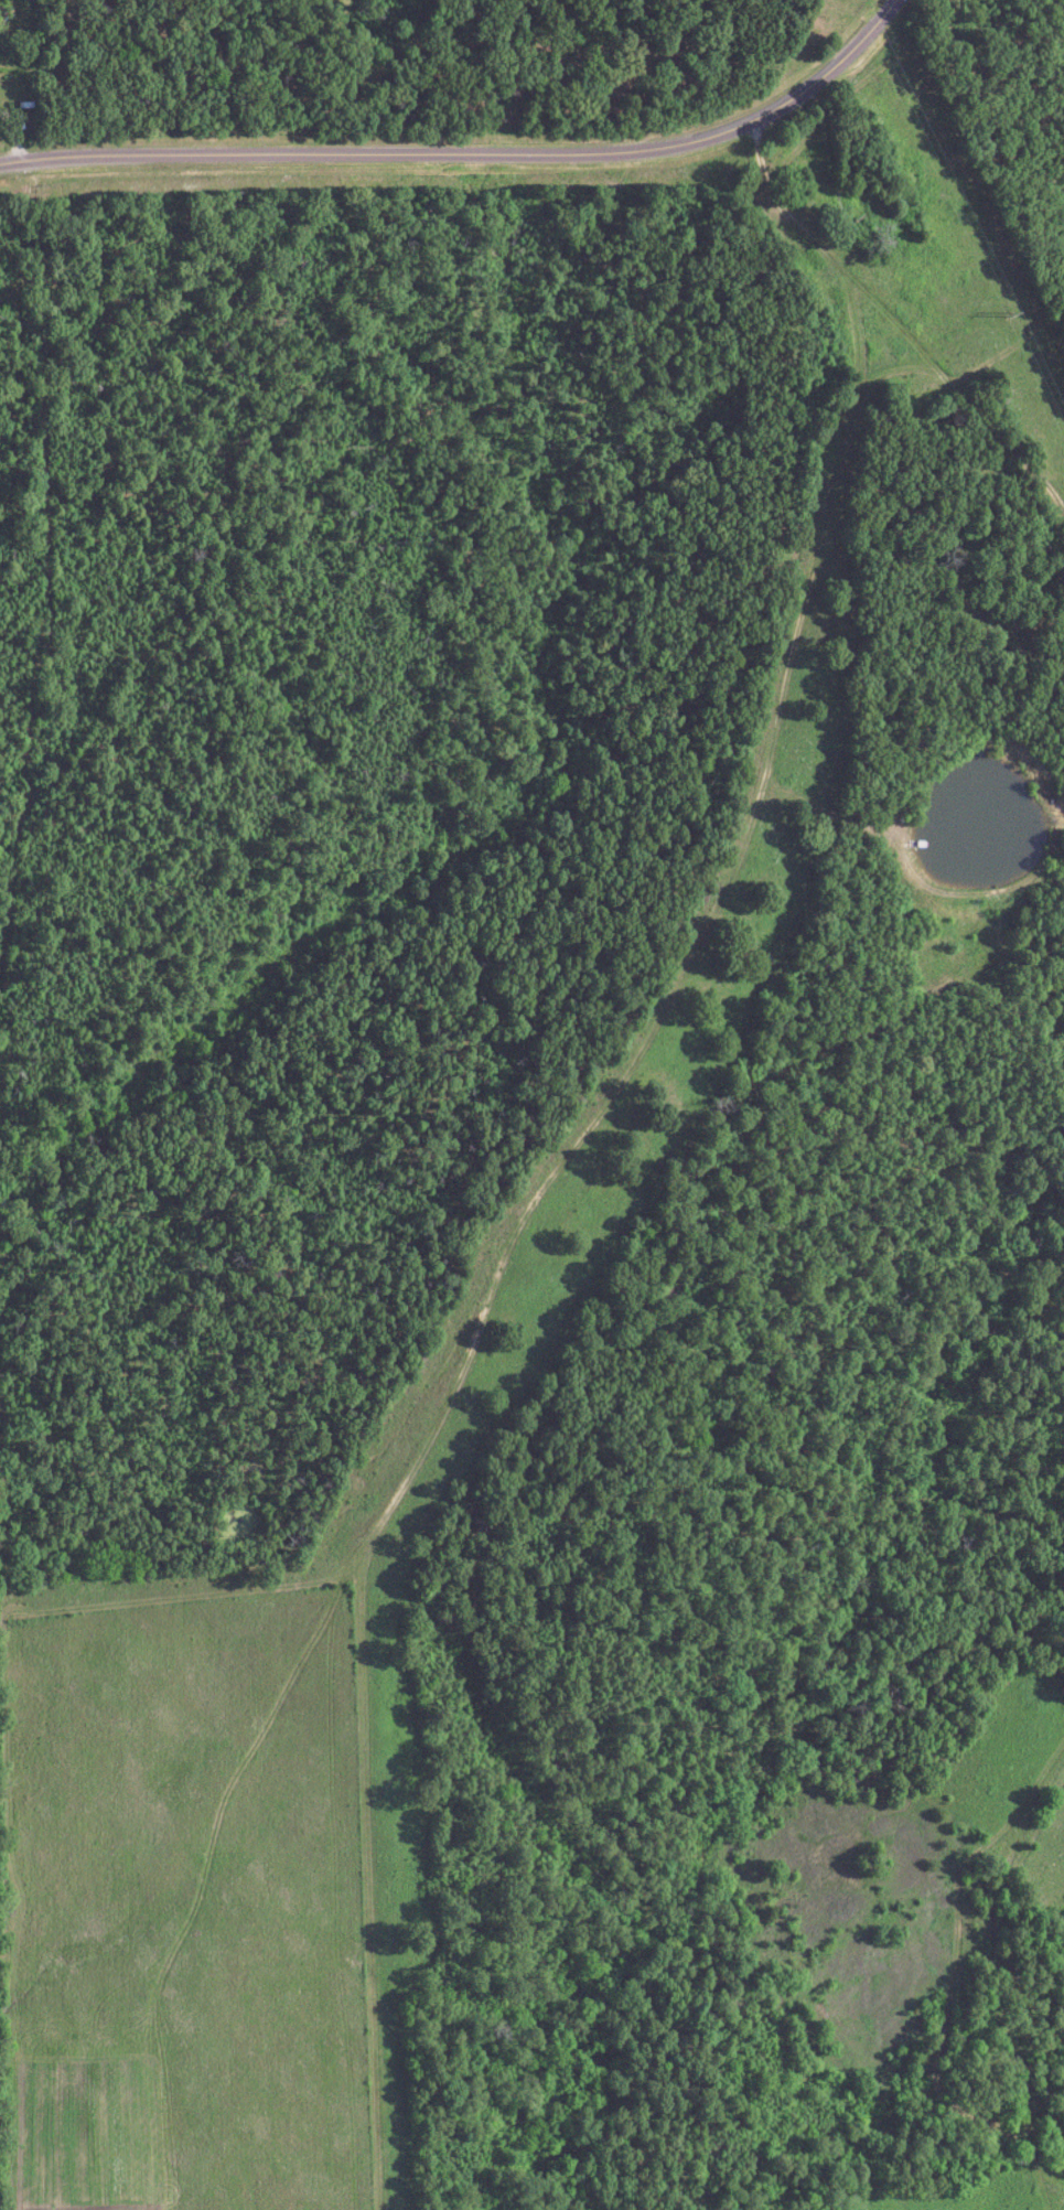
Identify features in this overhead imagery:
road: (474, 155)
power tower: (1011, 313)

